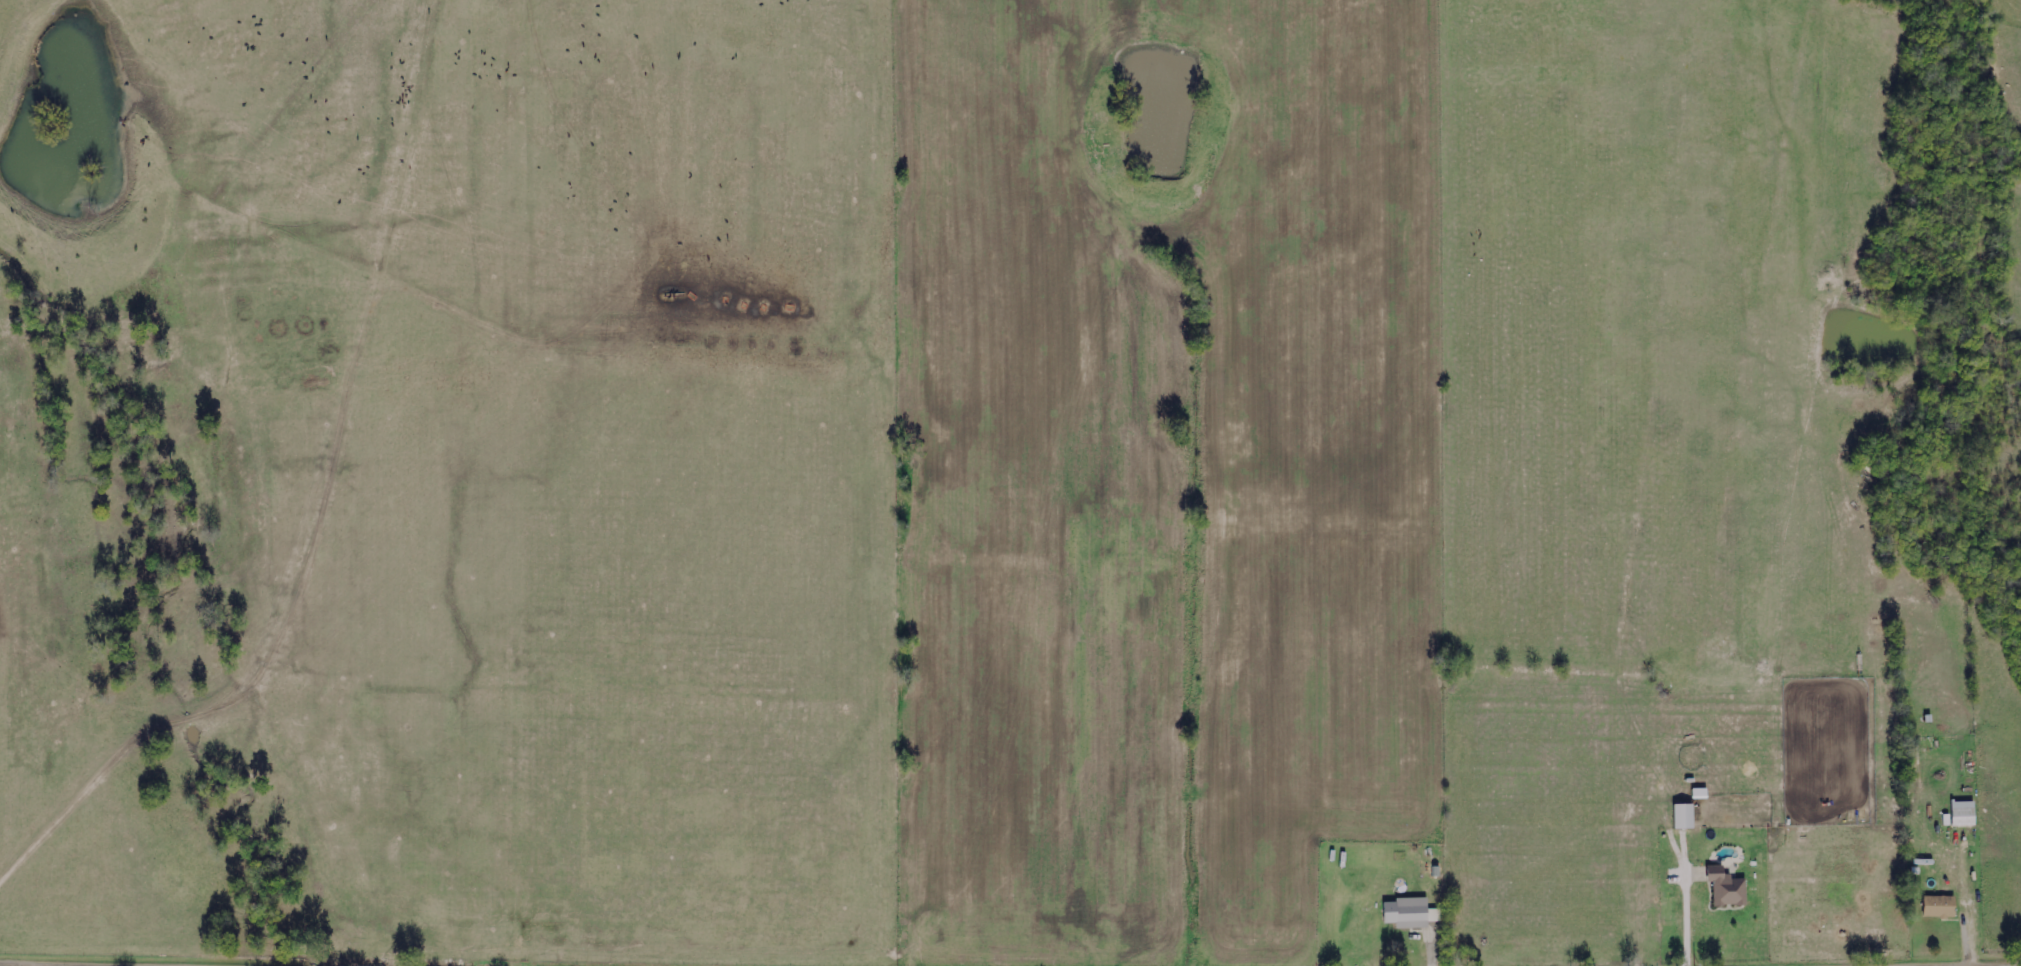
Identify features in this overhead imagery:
building: (1963, 815)
building: (1687, 817)
building: (1942, 907)
building: (1412, 914)

